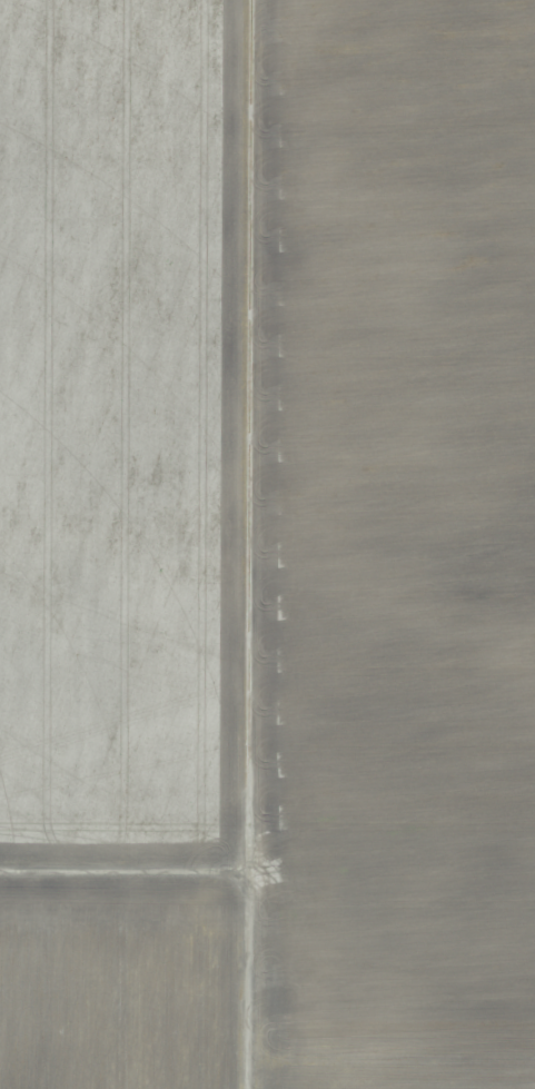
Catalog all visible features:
road: (231, 869)

